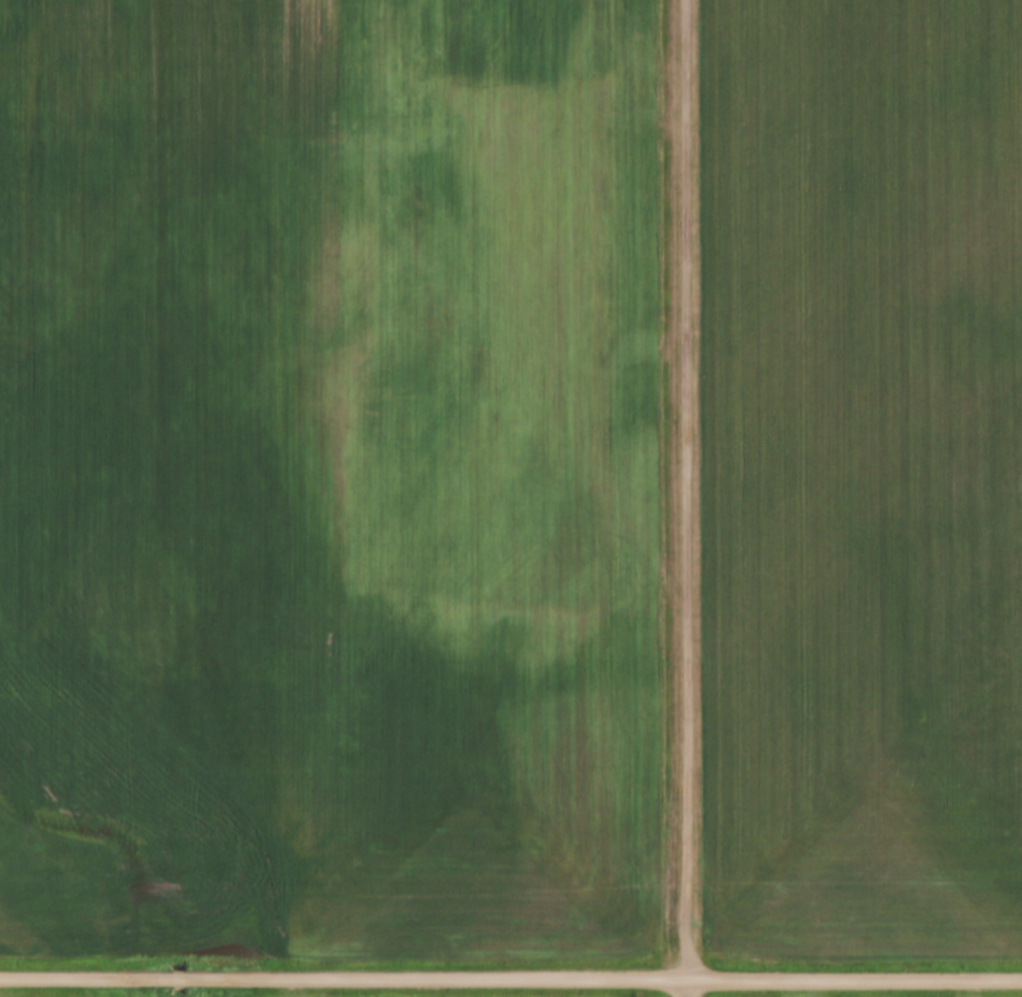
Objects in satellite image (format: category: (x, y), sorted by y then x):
road: (687, 498)
road: (510, 978)

